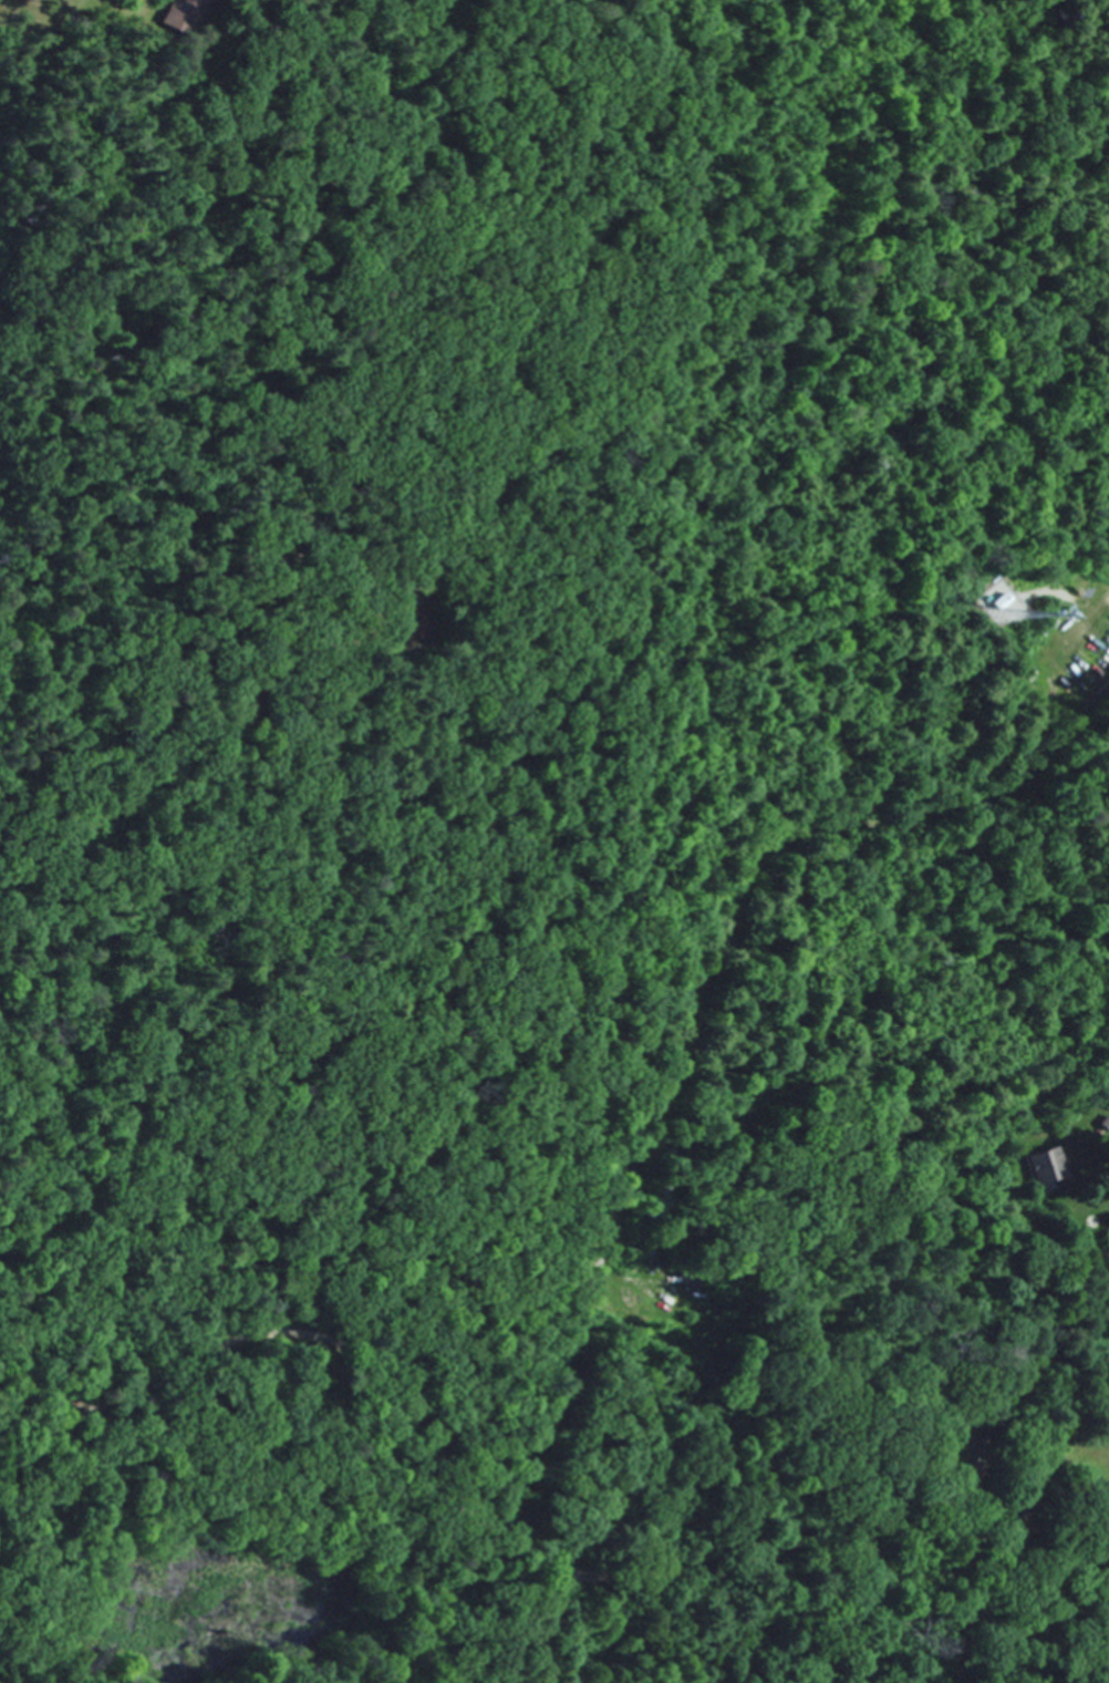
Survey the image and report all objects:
building: (195, 1)
road: (308, 40)
road: (572, 615)
building: (431, 628)
park: (874, 745)
road: (251, 756)
building: (1039, 1164)
building: (950, 1442)
road: (17, 1446)
road: (1029, 1457)
road: (478, 1479)
road: (953, 1674)

